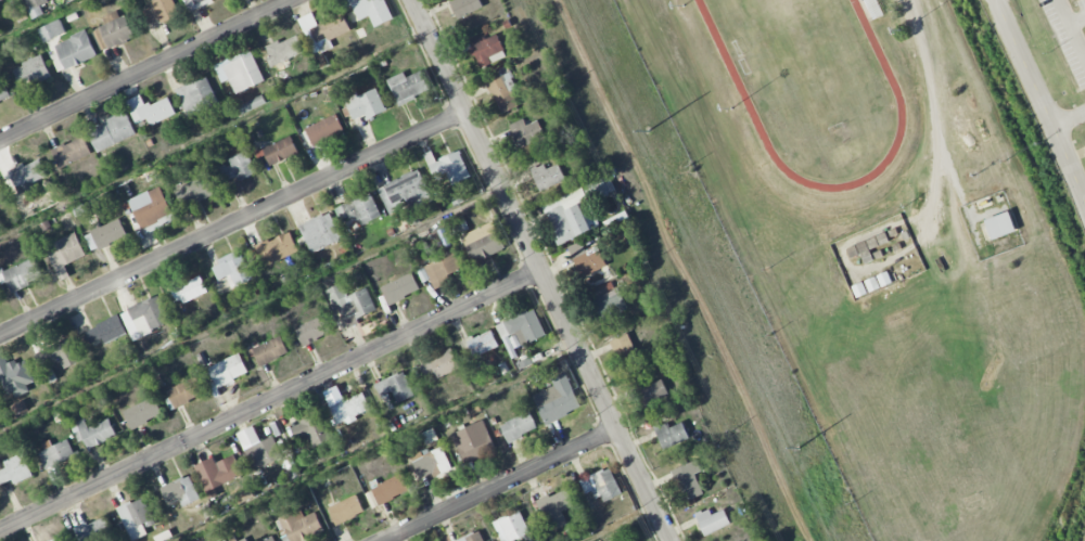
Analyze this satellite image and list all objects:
building: (0, 0)
building: (349, 2)
building: (195, 3)
building: (465, 7)
building: (162, 10)
building: (378, 11)
road: (1076, 21)
building: (115, 29)
building: (51, 30)
building: (323, 30)
road: (1071, 34)
building: (284, 49)
building: (486, 49)
building: (73, 51)
building: (33, 70)
road: (148, 70)
building: (240, 72)
building: (408, 87)
building: (502, 89)
building: (3, 91)
building: (196, 95)
building: (253, 103)
road: (1042, 103)
building: (365, 104)
building: (150, 110)
road: (1069, 118)
building: (324, 130)
building: (112, 131)
power tower: (649, 131)
building: (526, 132)
building: (72, 152)
building: (239, 167)
building: (448, 167)
building: (27, 173)
building: (547, 176)
building: (405, 192)
building: (2, 201)
building: (359, 208)
building: (152, 209)
building: (574, 210)
building: (999, 224)
road: (232, 226)
building: (320, 232)
building: (104, 234)
building: (483, 242)
building: (866, 247)
building: (277, 248)
building: (64, 254)
building: (589, 260)
building: (232, 269)
building: (441, 270)
road: (540, 270)
building: (21, 274)
building: (400, 288)
building: (189, 289)
building: (352, 304)
building: (610, 304)
building: (144, 318)
building: (314, 330)
building: (106, 331)
building: (481, 343)
building: (270, 350)
building: (626, 352)
building: (60, 353)
building: (438, 365)
building: (228, 370)
building: (14, 376)
building: (397, 388)
building: (186, 391)
building: (652, 391)
building: (557, 399)
road: (270, 401)
building: (349, 408)
building: (0, 410)
building: (142, 412)
building: (519, 426)
building: (311, 430)
building: (94, 433)
building: (671, 434)
building: (473, 441)
building: (258, 448)
power tower: (799, 448)
building: (55, 454)
building: (431, 463)
building: (15, 469)
building: (217, 474)
building: (689, 479)
building: (601, 484)
road: (501, 485)
building: (386, 490)
building: (180, 491)
building: (556, 507)
building: (346, 510)
building: (135, 517)
building: (712, 520)
building: (298, 526)
building: (511, 527)
building: (94, 530)
building: (472, 537)
building: (58, 539)
building: (269, 539)
building: (243, 540)

